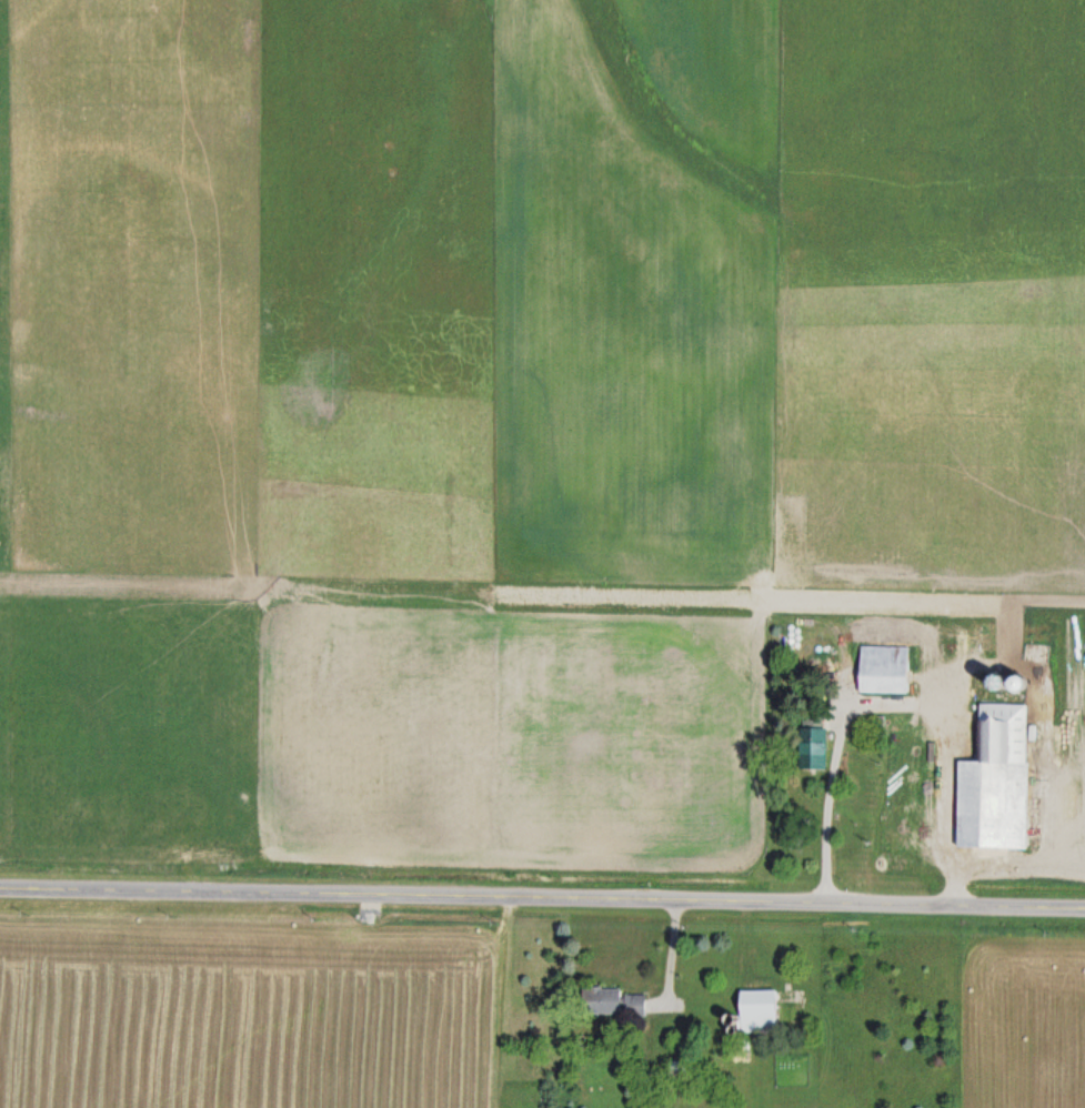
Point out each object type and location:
building: (882, 671)
building: (811, 749)
building: (993, 783)
road: (542, 894)
building: (601, 1003)
building: (633, 1006)
building: (756, 1013)

